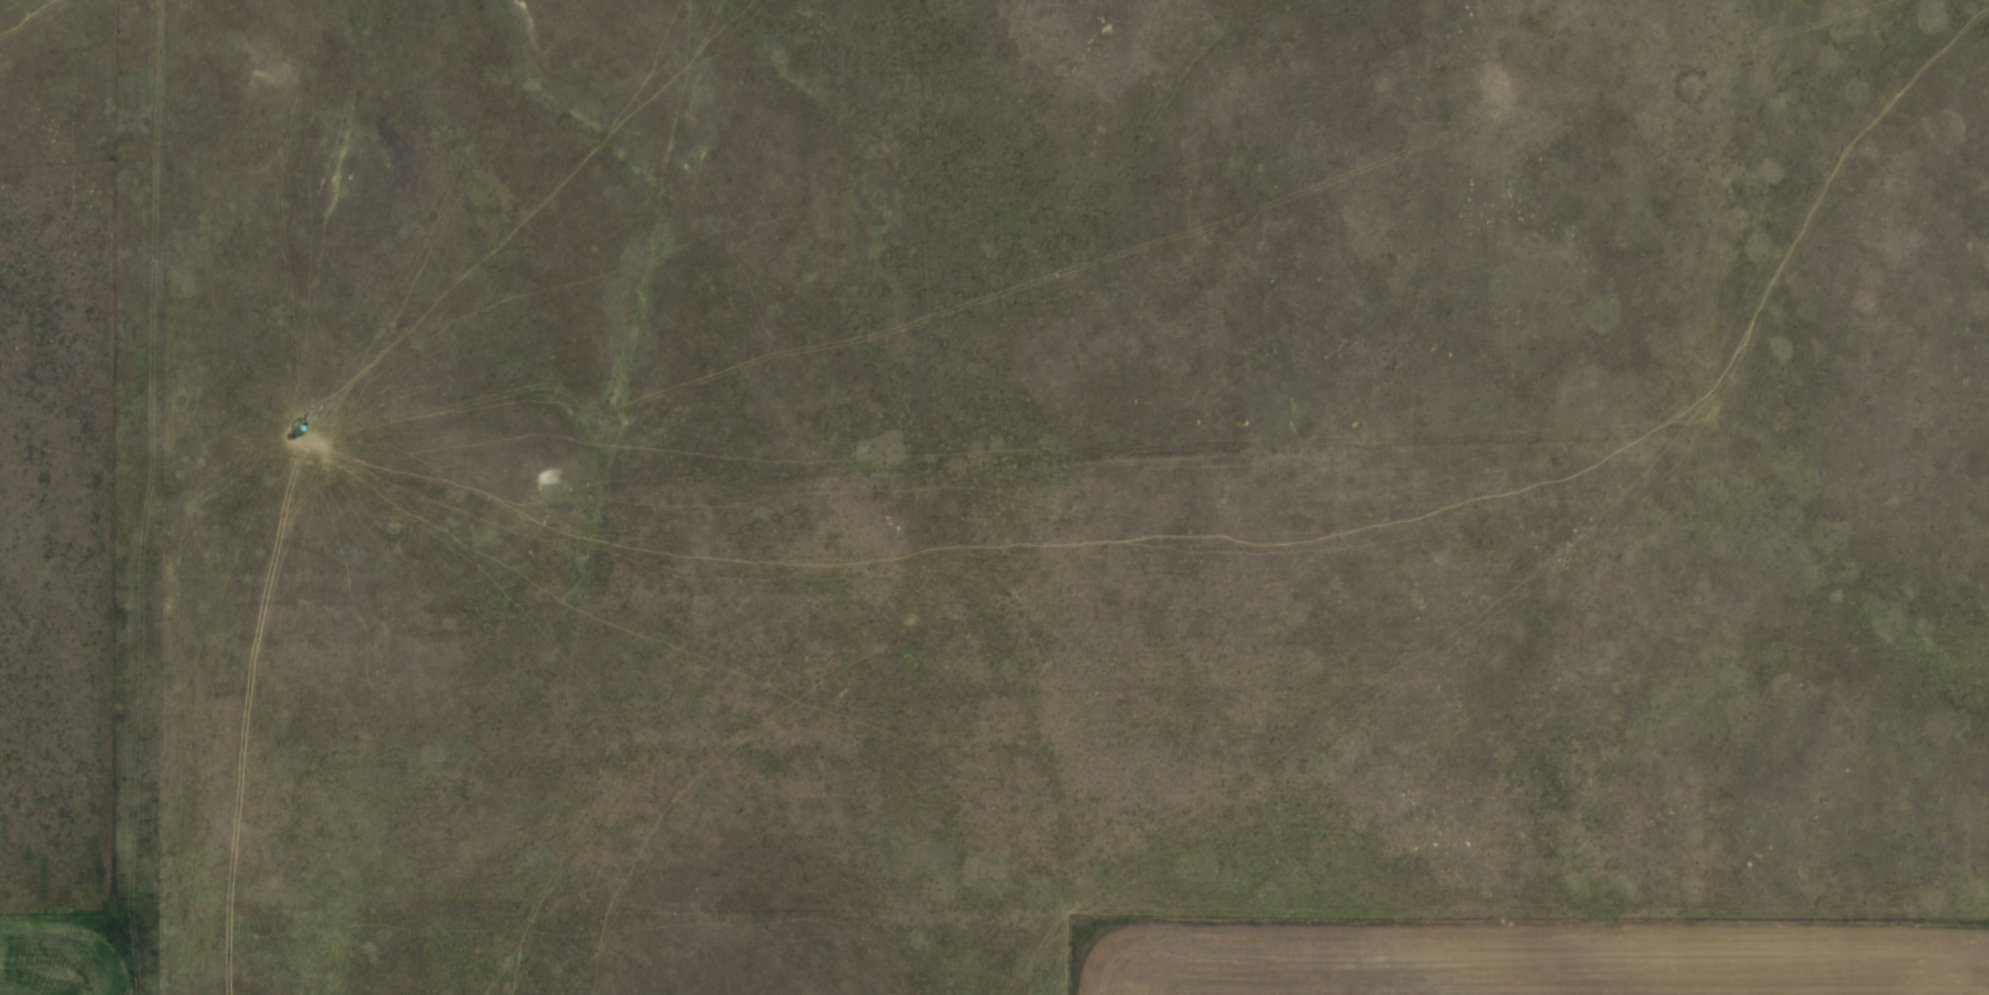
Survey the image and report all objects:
road: (130, 963)

